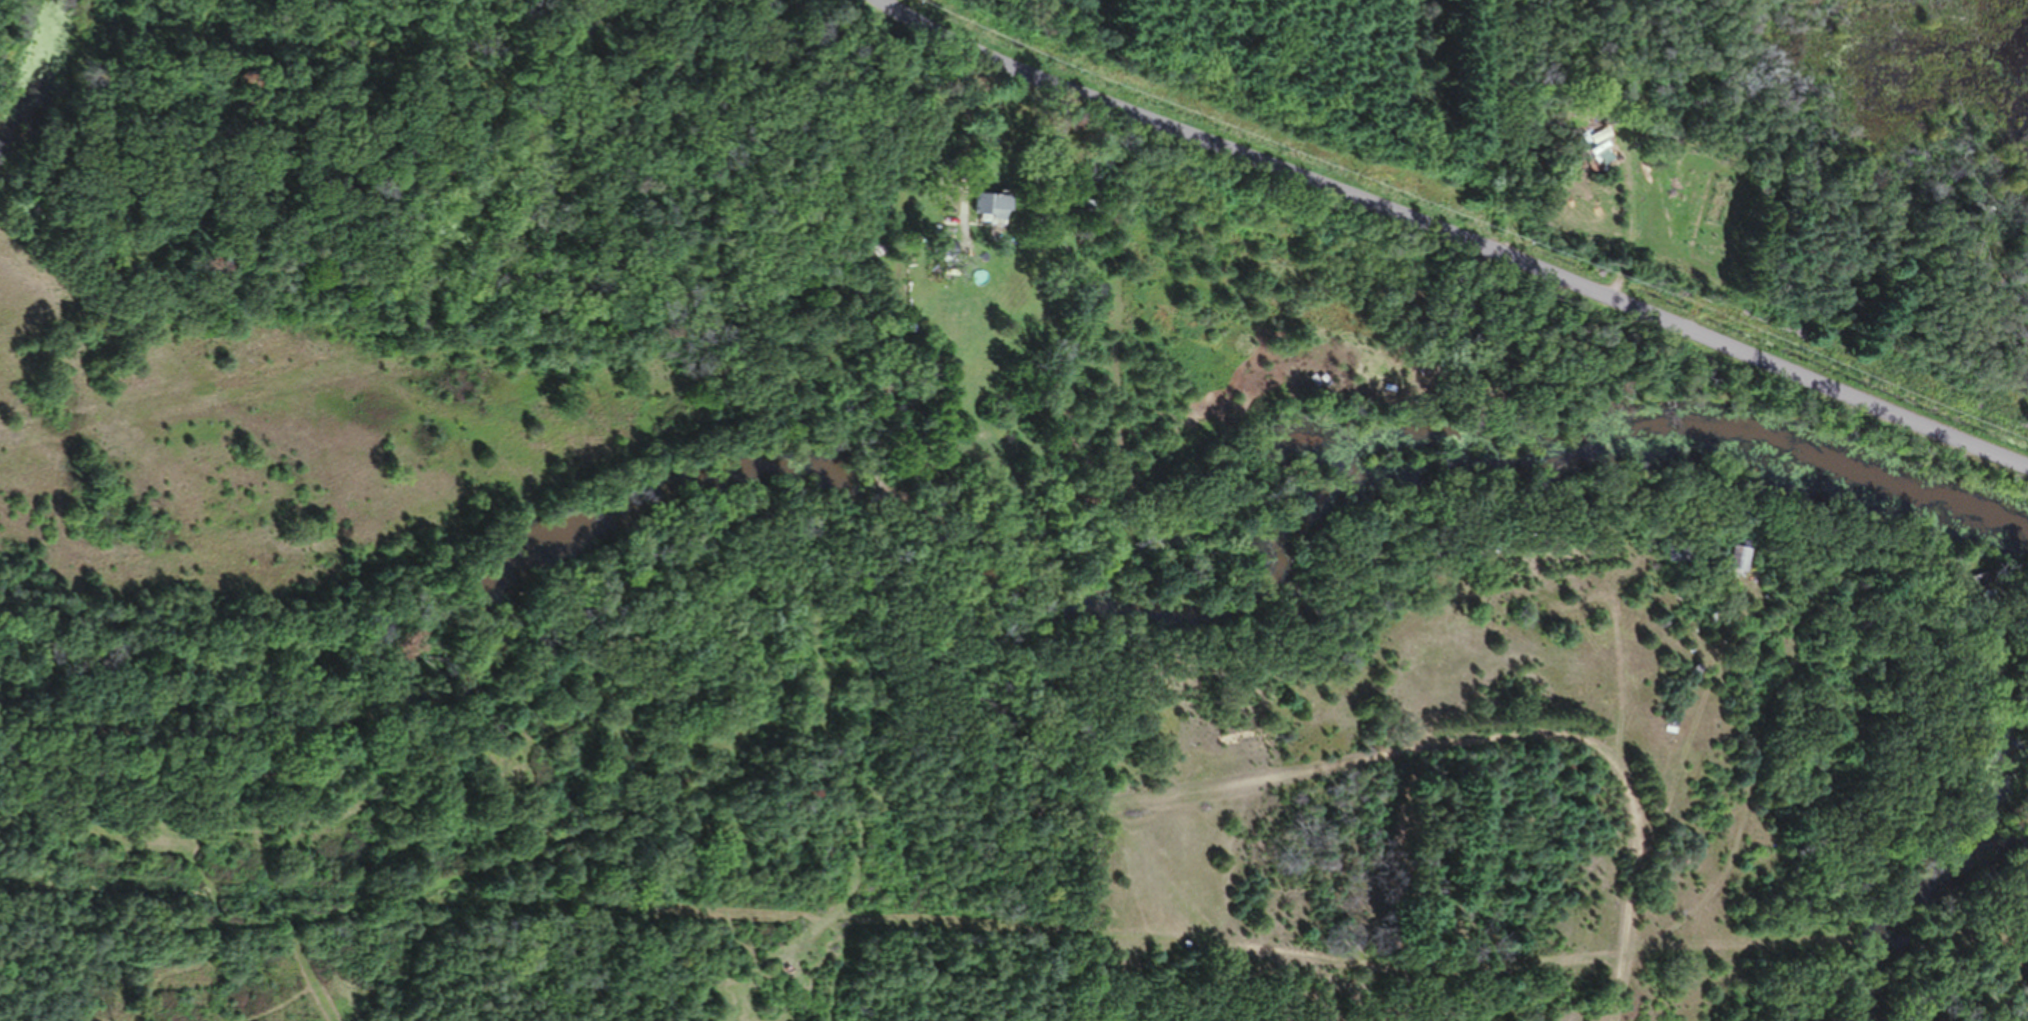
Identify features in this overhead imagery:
building: (997, 209)
road: (1453, 235)
building: (1738, 563)
road: (1489, 742)

